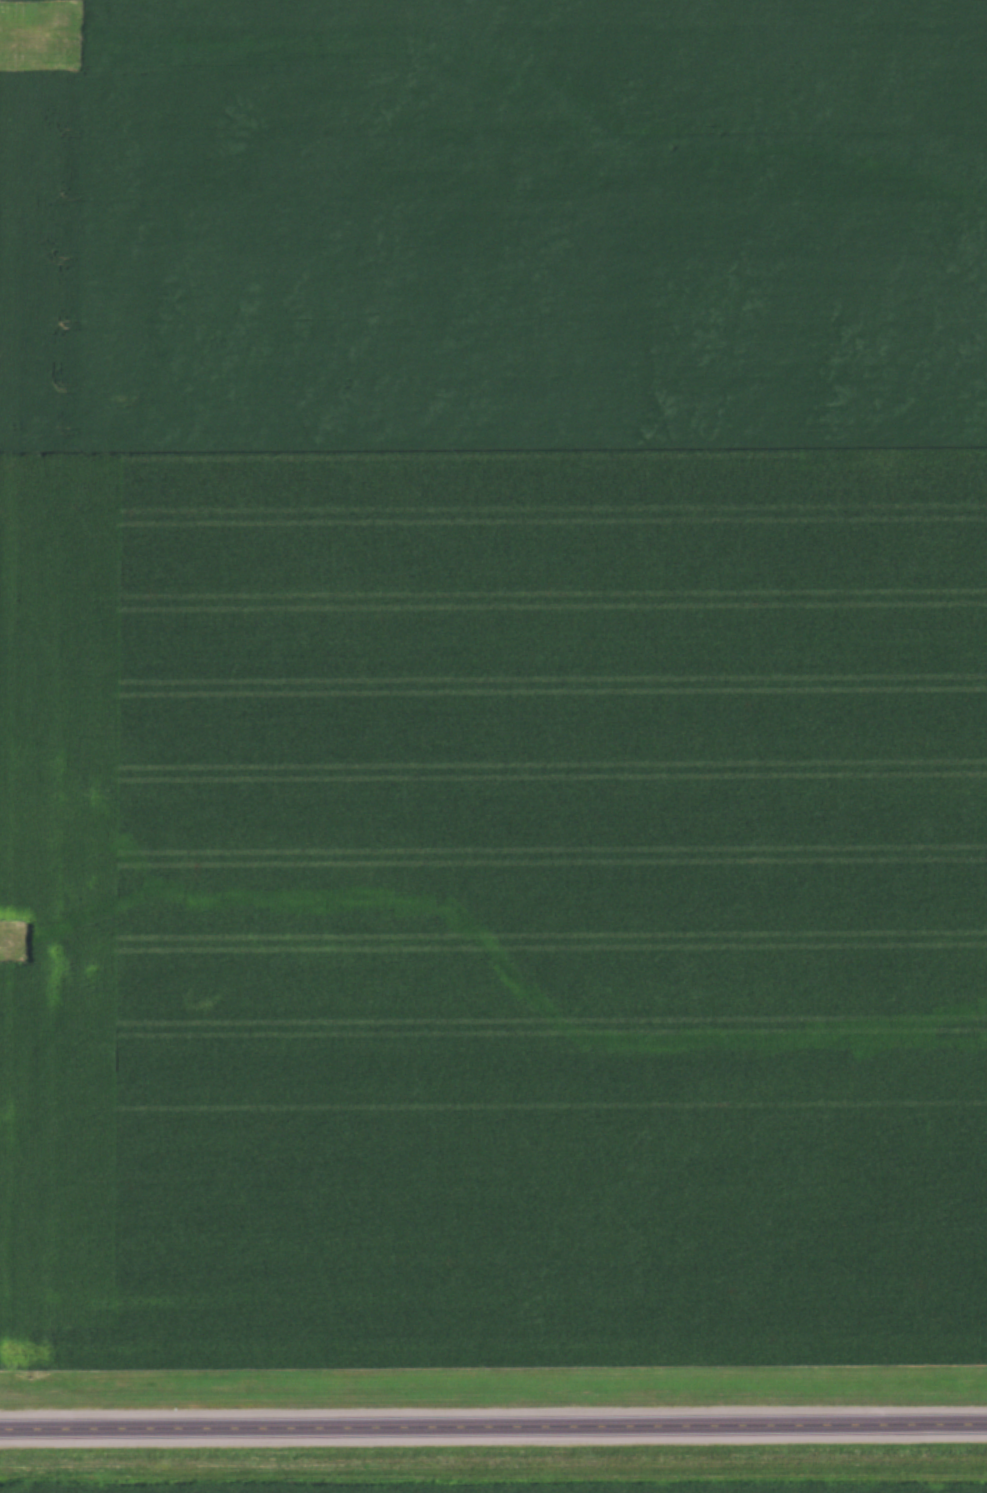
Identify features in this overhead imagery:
road: (493, 1428)

